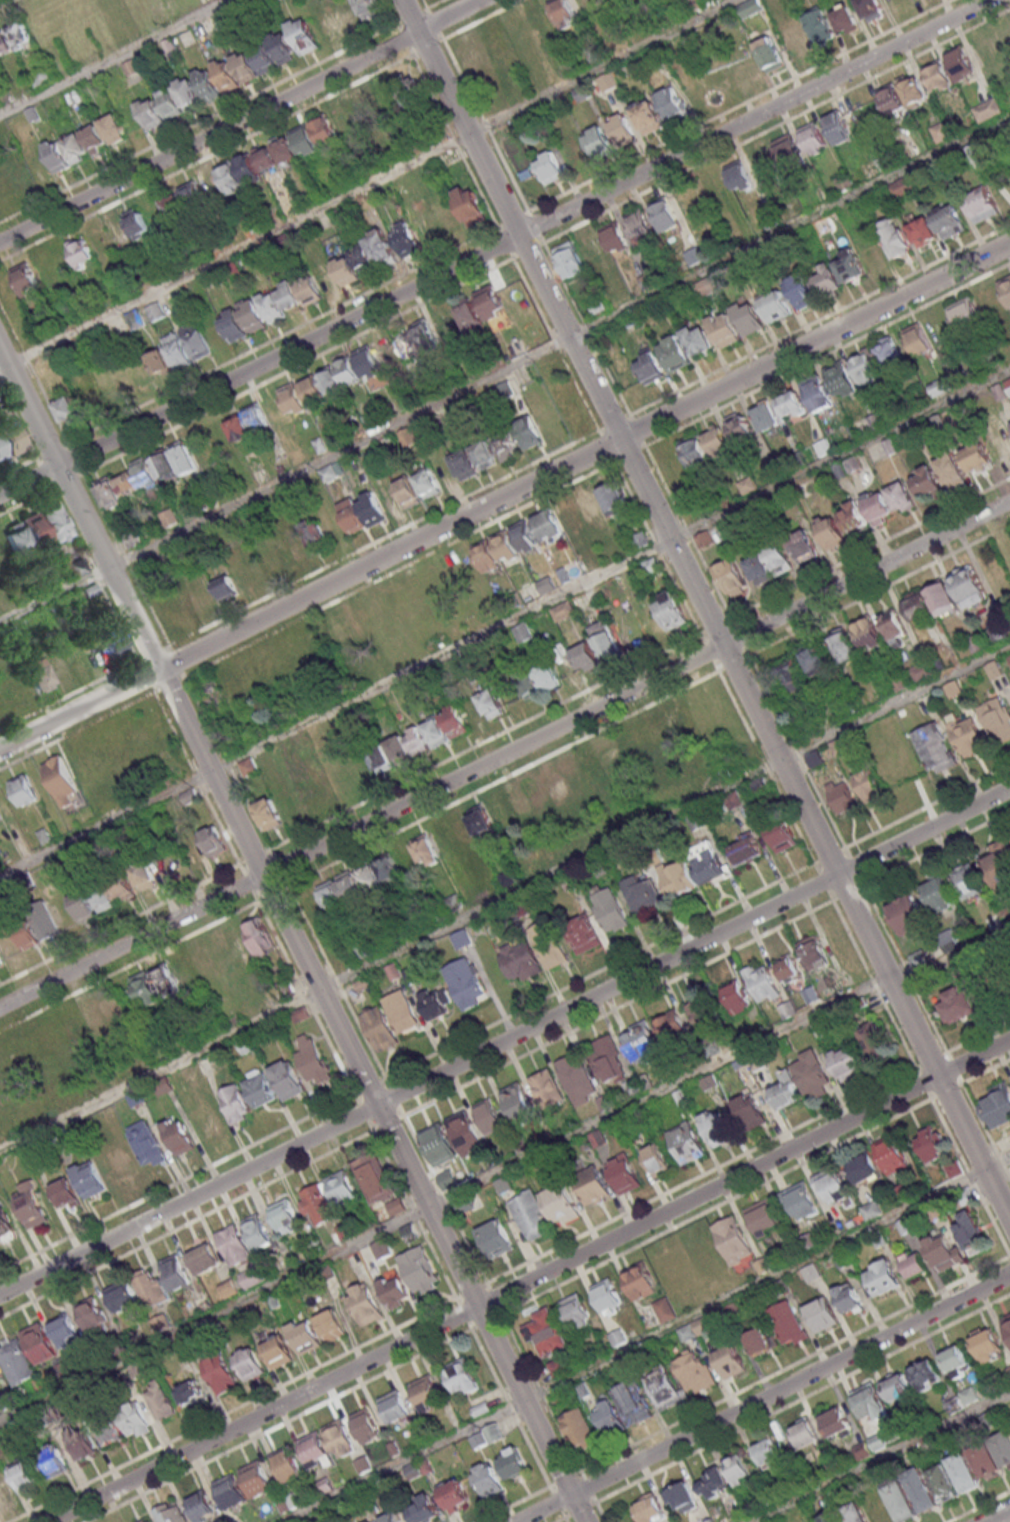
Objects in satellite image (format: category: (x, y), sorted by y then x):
building: (591, 5)
building: (750, 7)
building: (870, 9)
building: (355, 12)
building: (565, 12)
building: (845, 19)
building: (326, 23)
building: (820, 27)
building: (20, 34)
building: (303, 35)
building: (794, 40)
building: (5, 45)
building: (770, 55)
road: (115, 57)
building: (470, 57)
building: (253, 62)
building: (960, 64)
building: (938, 78)
building: (207, 84)
building: (409, 90)
building: (187, 92)
building: (902, 96)
building: (672, 102)
building: (159, 108)
building: (367, 108)
building: (648, 116)
road: (239, 120)
building: (344, 120)
building: (113, 128)
building: (323, 128)
building: (624, 129)
building: (837, 129)
building: (813, 140)
building: (600, 141)
building: (84, 143)
building: (287, 148)
building: (789, 150)
building: (573, 151)
building: (56, 157)
building: (764, 164)
building: (549, 166)
building: (247, 167)
building: (229, 176)
building: (739, 176)
road: (367, 183)
building: (900, 187)
building: (191, 195)
building: (981, 204)
building: (470, 205)
building: (666, 212)
building: (136, 221)
building: (948, 221)
building: (641, 225)
building: (117, 231)
building: (922, 231)
building: (894, 237)
building: (407, 240)
building: (606, 243)
road: (493, 248)
building: (81, 250)
building: (693, 256)
building: (570, 259)
building: (849, 265)
building: (26, 278)
building: (827, 279)
building: (646, 280)
building: (306, 288)
building: (1005, 288)
building: (705, 289)
building: (801, 292)
building: (991, 300)
building: (490, 303)
building: (775, 307)
building: (155, 311)
building: (964, 313)
building: (469, 314)
building: (446, 322)
building: (736, 324)
building: (917, 338)
building: (413, 339)
building: (196, 340)
building: (698, 341)
building: (176, 350)
building: (889, 352)
building: (674, 353)
building: (159, 362)
building: (369, 363)
building: (650, 366)
building: (865, 366)
road: (505, 369)
building: (339, 374)
building: (841, 380)
building: (379, 382)
building: (816, 393)
building: (302, 394)
building: (790, 405)
building: (67, 408)
building: (765, 418)
building: (369, 419)
building: (247, 422)
building: (740, 429)
building: (528, 431)
building: (10, 442)
building: (505, 444)
building: (706, 448)
building: (484, 454)
building: (976, 456)
building: (463, 464)
building: (951, 470)
building: (331, 471)
building: (146, 474)
building: (926, 480)
building: (427, 483)
building: (407, 492)
road: (505, 496)
building: (602, 502)
building: (361, 513)
building: (558, 521)
building: (45, 525)
building: (831, 531)
building: (525, 536)
building: (13, 540)
building: (306, 541)
building: (804, 545)
building: (496, 551)
building: (770, 562)
building: (77, 567)
building: (244, 575)
building: (732, 577)
building: (416, 584)
building: (969, 586)
building: (213, 591)
building: (931, 602)
building: (671, 609)
building: (563, 610)
road: (705, 611)
road: (505, 621)
building: (894, 626)
building: (339, 630)
building: (523, 631)
building: (869, 633)
building: (606, 640)
building: (113, 642)
building: (845, 646)
building: (585, 656)
building: (1009, 657)
building: (817, 660)
building: (919, 671)
building: (46, 673)
building: (792, 677)
building: (536, 679)
building: (491, 703)
building: (997, 719)
building: (454, 720)
building: (671, 724)
building: (435, 730)
building: (968, 737)
building: (838, 746)
building: (397, 748)
building: (935, 748)
road: (504, 754)
building: (619, 754)
building: (169, 760)
building: (62, 779)
building: (869, 784)
building: (24, 789)
building: (546, 789)
building: (841, 795)
building: (733, 801)
building: (269, 813)
building: (0, 818)
building: (471, 826)
building: (782, 834)
building: (204, 844)
building: (426, 851)
building: (744, 851)
building: (999, 861)
building: (693, 871)
building: (144, 875)
building: (967, 878)
building: (360, 883)
building: (122, 889)
building: (643, 893)
building: (939, 895)
road: (505, 897)
building: (91, 902)
building: (610, 910)
building: (907, 914)
building: (44, 919)
building: (26, 933)
building: (584, 933)
road: (291, 935)
building: (260, 936)
building: (461, 939)
building: (948, 939)
building: (9, 943)
building: (549, 944)
building: (813, 952)
building: (1, 959)
building: (521, 962)
building: (788, 969)
building: (466, 983)
building: (156, 984)
building: (763, 984)
building: (737, 999)
building: (435, 1001)
building: (957, 1004)
building: (109, 1008)
building: (788, 1008)
building: (300, 1014)
building: (702, 1015)
building: (390, 1019)
building: (671, 1026)
building: (873, 1039)
road: (505, 1041)
building: (641, 1044)
building: (313, 1059)
building: (608, 1060)
building: (846, 1061)
building: (812, 1074)
building: (287, 1079)
building: (577, 1079)
building: (547, 1087)
building: (258, 1088)
building: (785, 1090)
building: (235, 1103)
building: (519, 1103)
building: (998, 1106)
building: (750, 1112)
building: (490, 1117)
building: (207, 1118)
building: (716, 1127)
building: (466, 1133)
building: (179, 1135)
building: (148, 1143)
building: (932, 1143)
building: (438, 1144)
building: (687, 1144)
building: (892, 1154)
building: (656, 1159)
building: (120, 1163)
road: (503, 1168)
building: (864, 1168)
building: (953, 1168)
building: (625, 1174)
building: (447, 1179)
building: (89, 1180)
building: (374, 1180)
building: (503, 1184)
building: (593, 1184)
building: (832, 1187)
building: (342, 1188)
building: (65, 1193)
building: (317, 1203)
building: (560, 1203)
building: (800, 1203)
building: (32, 1207)
building: (396, 1207)
building: (530, 1214)
building: (284, 1217)
building: (764, 1217)
building: (6, 1229)
building: (258, 1232)
building: (970, 1233)
building: (495, 1237)
building: (734, 1240)
building: (234, 1246)
building: (381, 1248)
building: (943, 1253)
building: (205, 1259)
building: (913, 1264)
building: (421, 1270)
building: (175, 1272)
building: (881, 1278)
road: (528, 1279)
building: (640, 1280)
building: (151, 1289)
building: (395, 1290)
building: (608, 1295)
building: (122, 1297)
building: (847, 1299)
building: (366, 1305)
building: (577, 1311)
building: (92, 1316)
building: (821, 1316)
building: (1007, 1322)
building: (787, 1323)
building: (331, 1324)
building: (65, 1330)
building: (546, 1332)
building: (305, 1335)
building: (618, 1336)
road: (646, 1341)
building: (760, 1341)
building: (39, 1343)
building: (987, 1344)
building: (278, 1352)
building: (729, 1359)
building: (957, 1361)
building: (17, 1362)
building: (249, 1363)
building: (560, 1367)
building: (1009, 1370)
building: (220, 1374)
building: (926, 1374)
building: (462, 1377)
building: (0, 1378)
building: (680, 1379)
building: (897, 1386)
building: (190, 1393)
building: (427, 1393)
road: (763, 1398)
building: (160, 1401)
building: (870, 1401)
building: (634, 1402)
building: (396, 1406)
building: (481, 1408)
building: (609, 1415)
building: (135, 1419)
building: (836, 1422)
building: (367, 1426)
building: (579, 1428)
building: (804, 1434)
building: (486, 1436)
building: (93, 1438)
building: (340, 1438)
building: (316, 1451)
building: (767, 1453)
building: (992, 1455)
road: (880, 1456)
building: (53, 1461)
building: (513, 1462)
building: (288, 1465)
building: (739, 1470)
building: (963, 1471)
building: (23, 1477)
building: (257, 1478)
building: (488, 1478)
building: (943, 1482)
building: (713, 1484)
building: (5, 1491)
building: (230, 1491)
building: (921, 1491)
building: (455, 1494)
building: (681, 1496)
building: (900, 1500)
building: (202, 1505)
building: (423, 1509)
building: (652, 1509)
building: (172, 1513)
building: (854, 1513)
road: (998, 1516)
building: (390, 1517)
building: (831, 1517)
building: (146, 1520)

